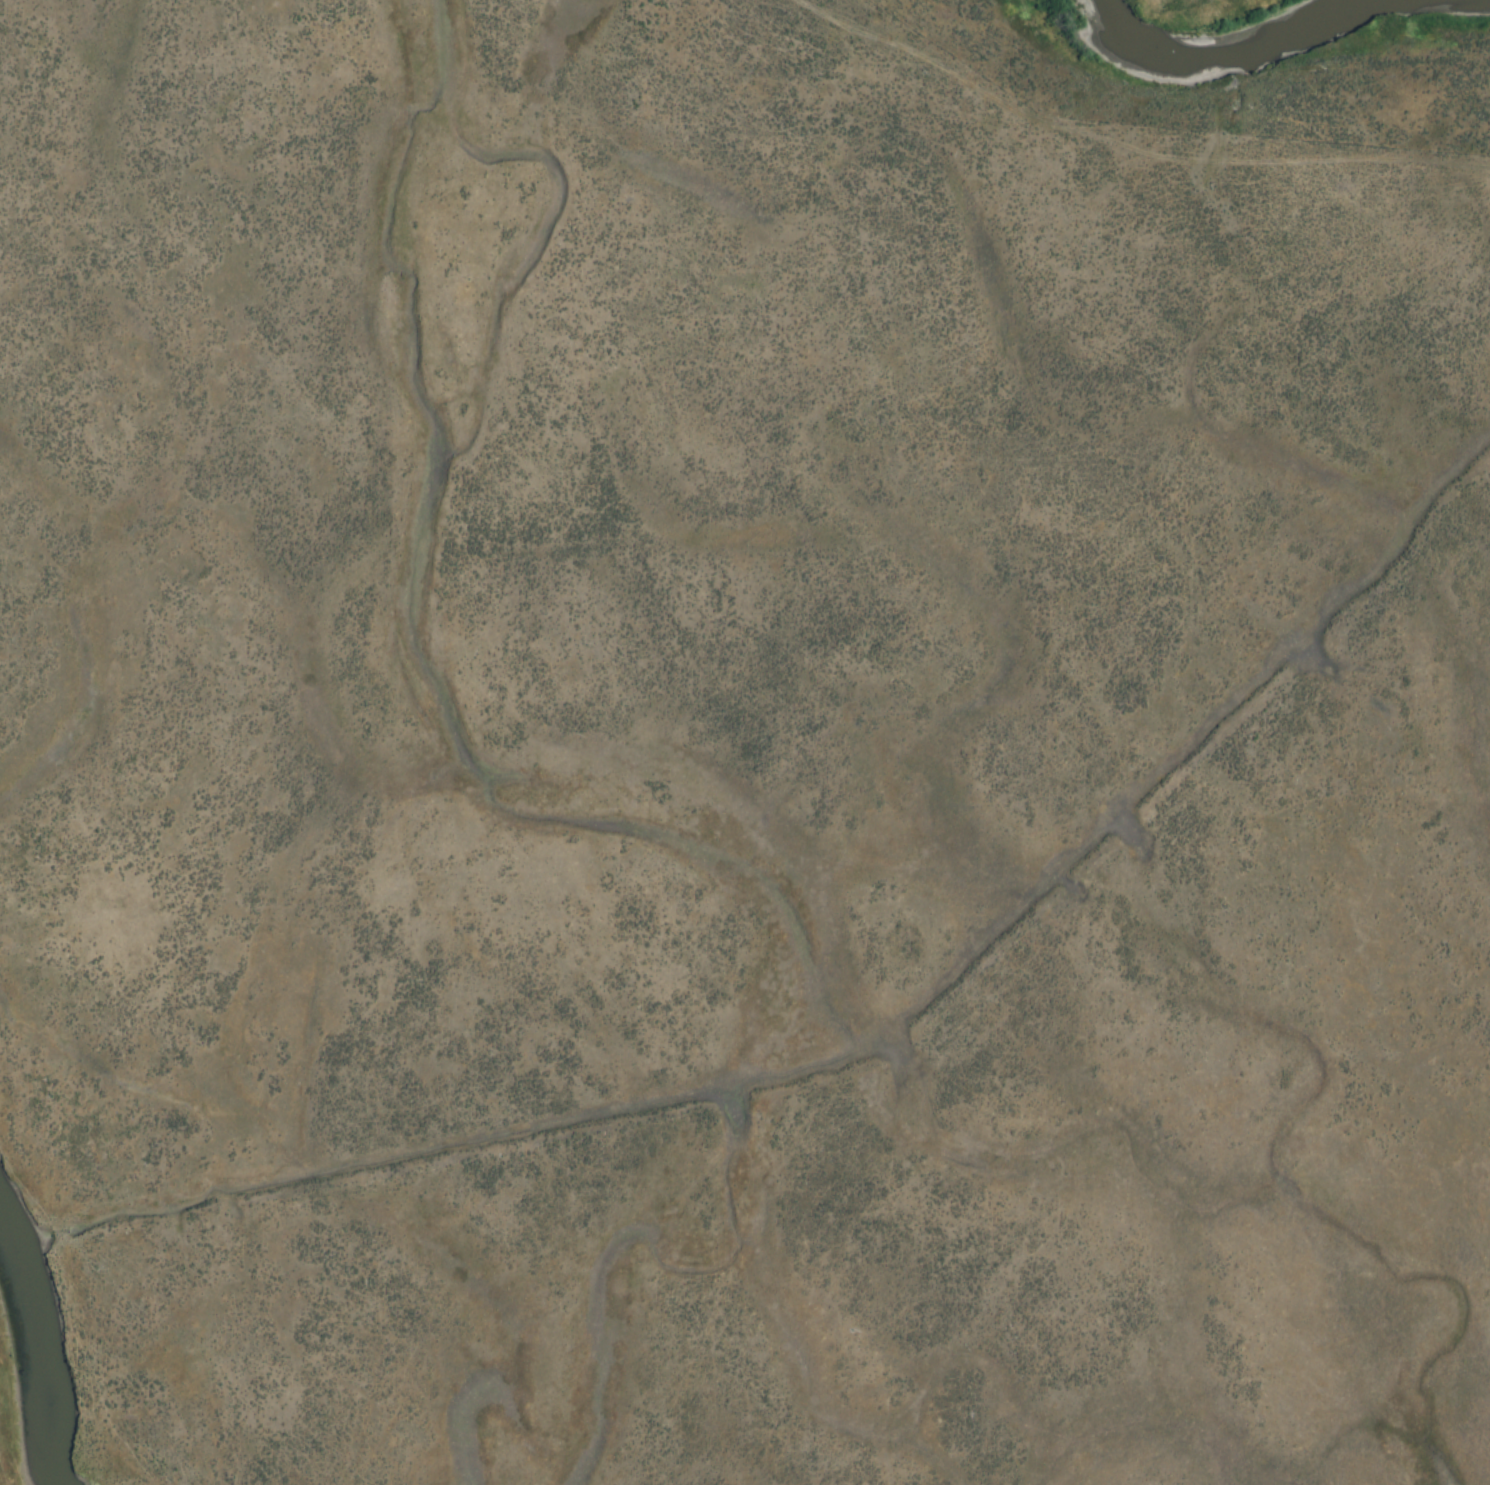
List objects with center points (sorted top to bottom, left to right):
river: (1437, 3)
river: (1186, 52)
road: (1, 1481)

